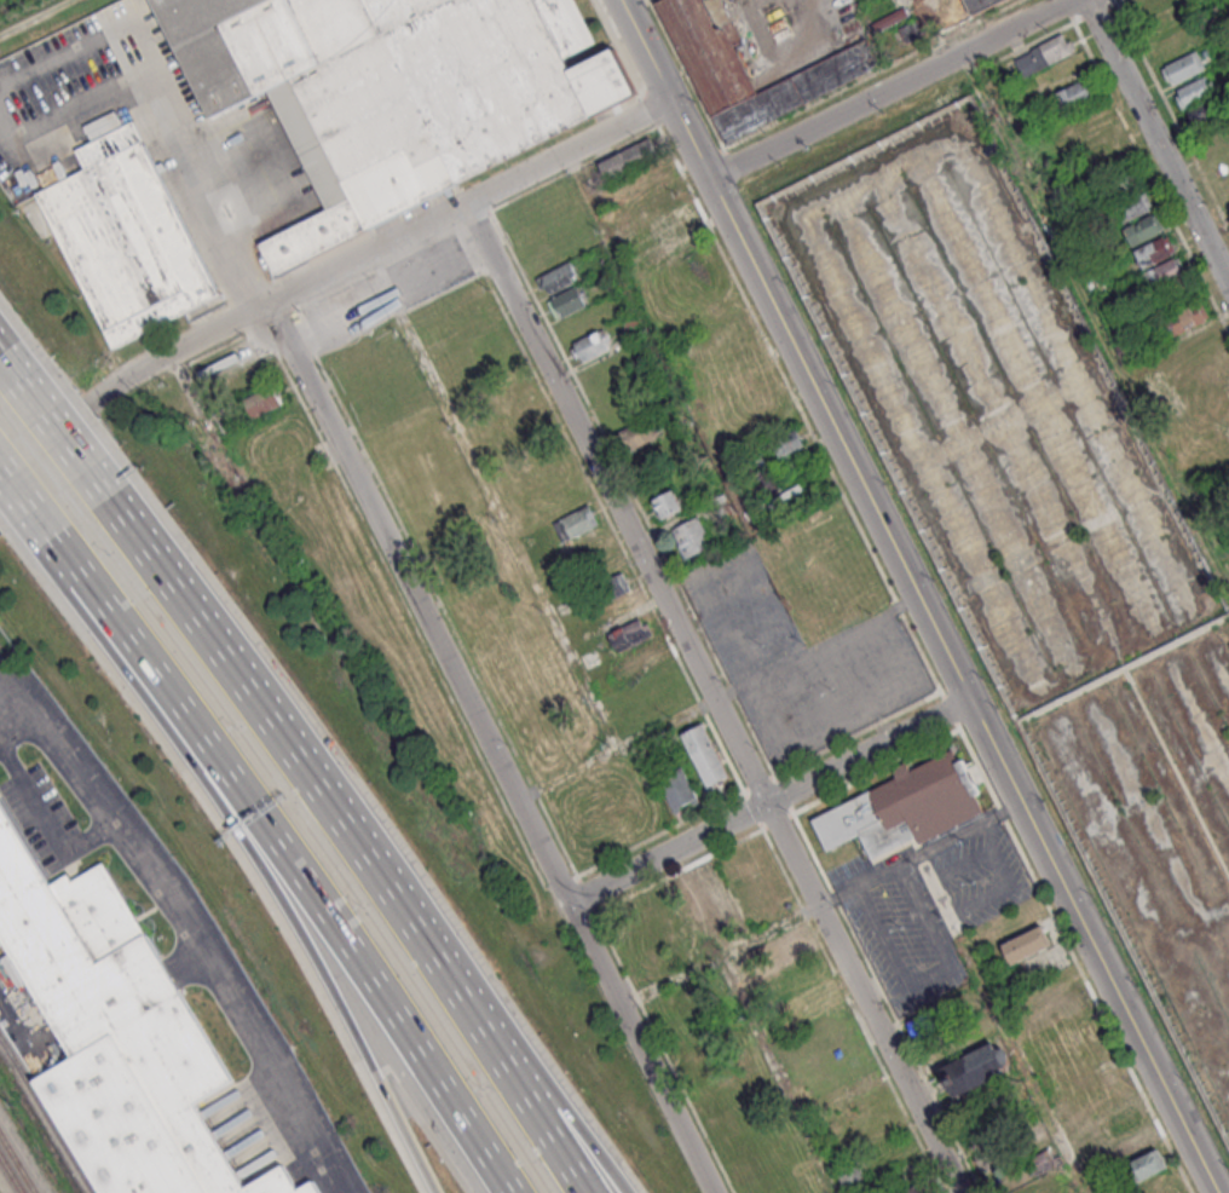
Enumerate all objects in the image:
building: (981, 4)
road: (86, 41)
building: (1044, 53)
building: (1183, 68)
building: (742, 69)
road: (888, 88)
building: (393, 91)
building: (1193, 92)
building: (1072, 94)
road: (77, 104)
building: (1204, 110)
road: (1156, 144)
building: (627, 159)
building: (647, 177)
building: (1120, 179)
road: (207, 186)
building: (1133, 206)
building: (673, 219)
building: (1144, 229)
building: (128, 238)
building: (1155, 252)
road: (619, 257)
road: (327, 271)
building: (1162, 272)
building: (556, 277)
building: (566, 301)
building: (1187, 317)
building: (727, 329)
building: (589, 345)
building: (261, 400)
building: (221, 419)
road: (52, 427)
building: (639, 432)
building: (787, 443)
building: (771, 489)
road: (27, 496)
road: (495, 500)
building: (667, 503)
building: (575, 521)
building: (689, 537)
road: (70, 554)
road: (715, 565)
building: (612, 586)
road: (916, 596)
building: (629, 633)
road: (813, 646)
building: (640, 656)
road: (710, 697)
road: (846, 709)
road: (15, 721)
road: (273, 728)
road: (494, 744)
road: (617, 750)
building: (704, 754)
building: (676, 789)
road: (771, 801)
park: (604, 807)
building: (904, 807)
road: (47, 817)
road: (918, 857)
road: (968, 860)
road: (270, 878)
road: (307, 878)
road: (1008, 878)
building: (697, 889)
building: (726, 911)
road: (189, 922)
building: (787, 944)
building: (1026, 944)
road: (930, 976)
building: (814, 995)
building: (1067, 1019)
building: (119, 1038)
building: (976, 1067)
road: (541, 1070)
road: (508, 1078)
railway: (41, 1117)
building: (1074, 1117)
building: (1121, 1120)
building: (1132, 1143)
building: (991, 1158)
railway: (18, 1160)
building: (1043, 1162)
building: (1149, 1164)
railway: (12, 1171)
building: (914, 1189)

